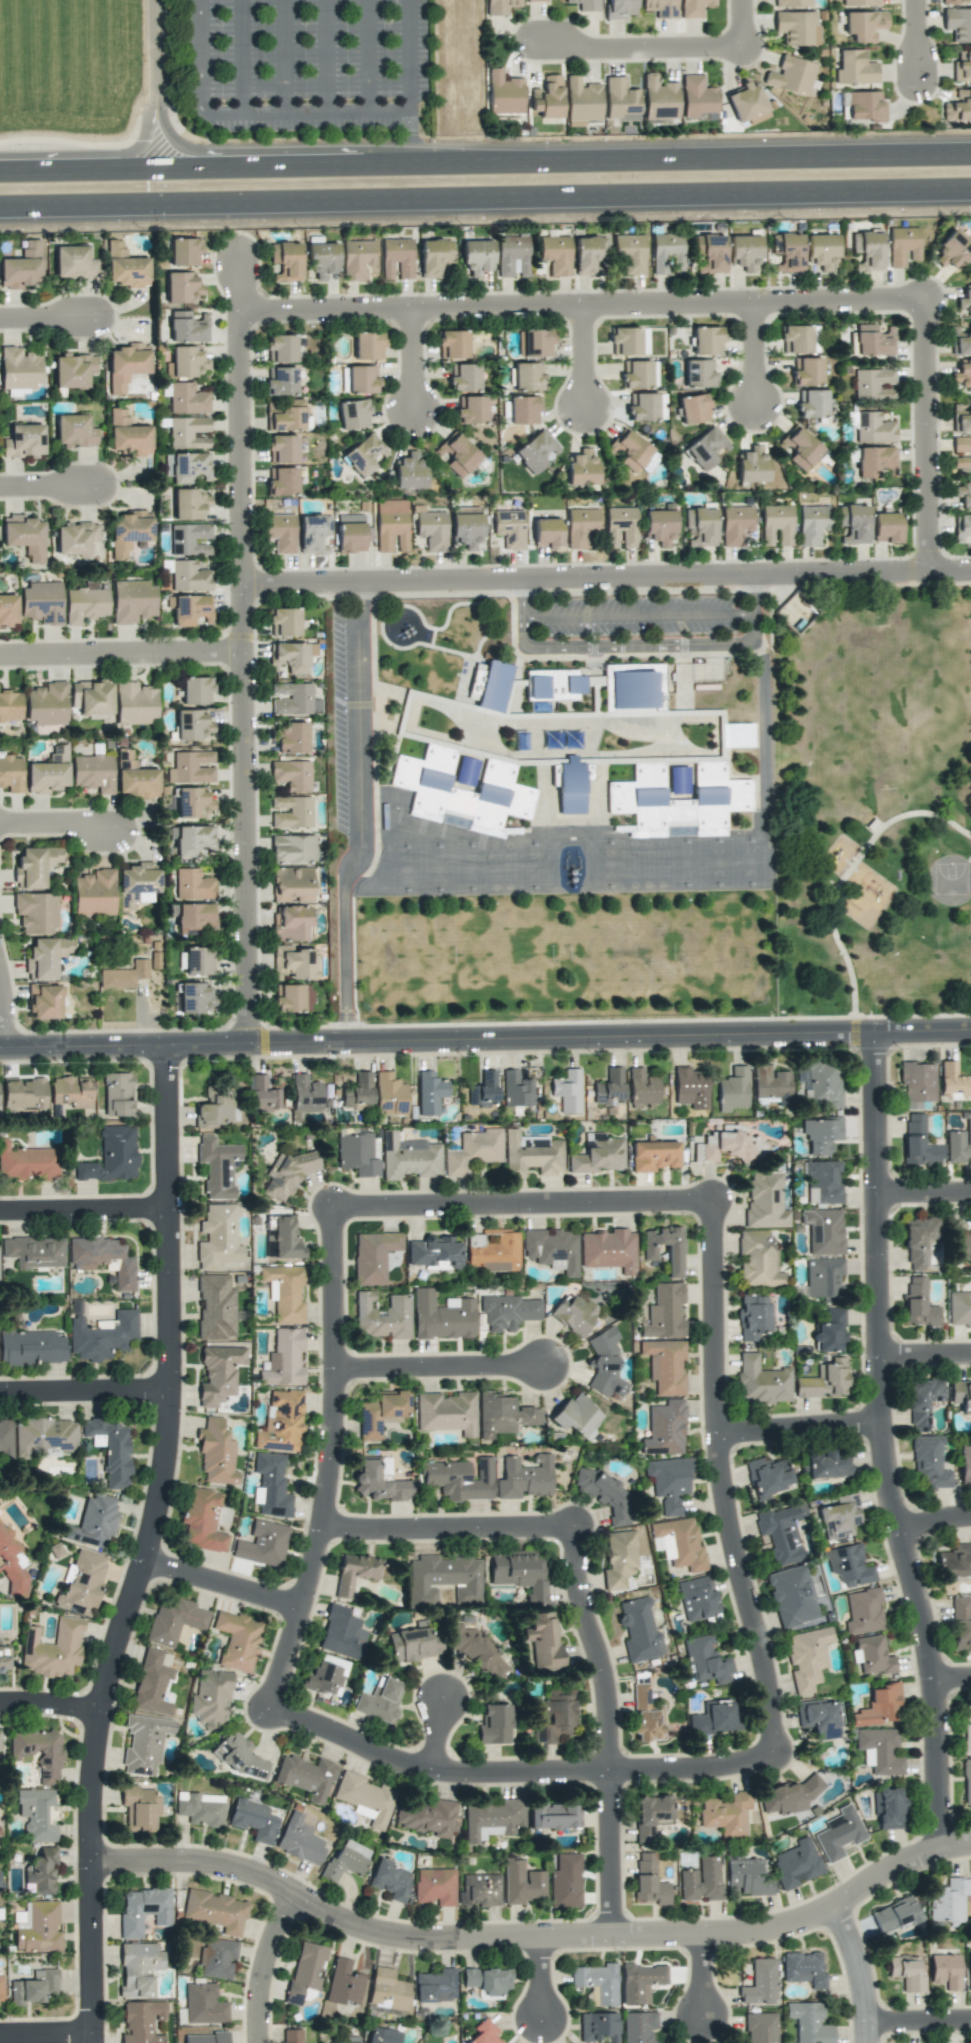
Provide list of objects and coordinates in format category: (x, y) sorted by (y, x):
building: (955, 0)
building: (859, 2)
building: (792, 3)
building: (585, 5)
building: (500, 6)
building: (660, 8)
building: (693, 8)
building: (620, 9)
road: (744, 21)
building: (958, 24)
building: (864, 25)
building: (797, 27)
road: (918, 41)
road: (641, 45)
road: (240, 56)
road: (283, 56)
road: (327, 56)
road: (366, 56)
building: (962, 66)
building: (854, 68)
building: (791, 75)
road: (409, 84)
road: (152, 86)
building: (504, 93)
building: (547, 97)
building: (697, 97)
building: (659, 98)
crop: (76, 99)
building: (620, 100)
building: (582, 101)
building: (747, 103)
building: (865, 106)
building: (958, 107)
road: (247, 112)
road: (485, 168)
road: (485, 191)
building: (903, 245)
building: (868, 250)
building: (953, 250)
building: (821, 251)
building: (184, 252)
building: (787, 252)
building: (630, 253)
building: (667, 253)
building: (710, 253)
building: (745, 253)
building: (556, 254)
building: (477, 256)
building: (513, 256)
building: (589, 256)
building: (433, 257)
building: (396, 258)
building: (322, 259)
building: (358, 259)
building: (286, 261)
building: (74, 262)
building: (21, 267)
building: (125, 267)
building: (182, 287)
building: (964, 302)
road: (584, 308)
road: (48, 320)
building: (187, 327)
building: (799, 339)
building: (707, 340)
building: (873, 340)
building: (629, 341)
building: (961, 341)
building: (534, 343)
building: (452, 344)
building: (368, 346)
building: (280, 348)
road: (757, 355)
road: (586, 359)
building: (188, 361)
road: (415, 362)
building: (125, 365)
building: (19, 368)
building: (73, 370)
building: (806, 372)
building: (699, 373)
building: (639, 374)
building: (962, 374)
building: (527, 376)
building: (464, 377)
building: (362, 379)
building: (280, 381)
building: (872, 384)
building: (187, 399)
building: (811, 404)
building: (642, 406)
building: (694, 408)
building: (471, 410)
building: (523, 410)
building: (353, 414)
building: (287, 417)
building: (961, 417)
building: (873, 428)
building: (74, 431)
building: (188, 432)
building: (127, 435)
road: (929, 437)
building: (24, 441)
building: (706, 448)
building: (799, 448)
building: (282, 449)
building: (629, 450)
building: (536, 451)
building: (961, 451)
building: (364, 455)
building: (458, 455)
building: (876, 461)
building: (649, 462)
building: (752, 464)
building: (187, 467)
building: (582, 468)
building: (410, 471)
building: (281, 481)
road: (49, 488)
building: (963, 494)
building: (189, 504)
building: (735, 524)
building: (812, 524)
building: (853, 524)
building: (391, 525)
building: (700, 525)
building: (776, 525)
building: (580, 526)
building: (465, 527)
building: (620, 527)
building: (659, 527)
building: (886, 527)
building: (510, 528)
building: (962, 528)
building: (128, 532)
building: (280, 532)
building: (313, 533)
building: (546, 533)
building: (24, 535)
building: (350, 536)
building: (75, 538)
building: (189, 539)
building: (189, 576)
road: (607, 580)
building: (133, 601)
building: (41, 602)
building: (85, 604)
building: (191, 609)
building: (7, 610)
road: (639, 614)
building: (284, 622)
road: (640, 644)
road: (244, 650)
road: (122, 655)
building: (291, 656)
building: (554, 684)
building: (494, 686)
building: (635, 686)
building: (196, 690)
building: (91, 697)
building: (290, 698)
building: (135, 703)
building: (47, 704)
building: (10, 706)
building: (192, 726)
building: (736, 735)
building: (290, 737)
building: (190, 767)
building: (48, 772)
building: (93, 772)
building: (11, 774)
building: (291, 774)
building: (134, 778)
building: (570, 787)
building: (461, 792)
park: (871, 800)
building: (679, 801)
building: (290, 812)
road: (360, 815)
road: (60, 824)
building: (191, 839)
building: (293, 849)
building: (34, 866)
road: (846, 870)
building: (137, 884)
building: (193, 884)
building: (291, 884)
building: (93, 893)
building: (36, 912)
building: (195, 916)
building: (290, 922)
building: (46, 957)
building: (198, 961)
building: (295, 962)
building: (124, 975)
building: (195, 998)
building: (292, 998)
building: (44, 1001)
road: (6, 1008)
road: (485, 1040)
building: (917, 1081)
building: (953, 1081)
building: (820, 1083)
building: (771, 1084)
building: (642, 1087)
building: (609, 1088)
building: (690, 1088)
building: (516, 1089)
building: (484, 1090)
building: (567, 1090)
building: (733, 1090)
building: (72, 1091)
building: (358, 1091)
building: (24, 1093)
building: (430, 1093)
building: (118, 1094)
building: (263, 1094)
building: (306, 1094)
building: (389, 1094)
building: (915, 1105)
building: (215, 1107)
building: (821, 1136)
building: (918, 1142)
building: (959, 1145)
building: (730, 1146)
building: (472, 1151)
building: (532, 1154)
building: (598, 1154)
building: (357, 1155)
building: (653, 1155)
building: (111, 1156)
building: (408, 1157)
building: (27, 1162)
building: (217, 1167)
building: (285, 1175)
building: (823, 1183)
road: (924, 1193)
building: (765, 1201)
road: (523, 1202)
road: (84, 1207)
building: (823, 1231)
building: (218, 1237)
building: (285, 1238)
building: (919, 1241)
building: (962, 1244)
building: (552, 1249)
building: (492, 1250)
building: (609, 1250)
building: (34, 1252)
building: (674, 1252)
building: (434, 1253)
building: (373, 1256)
building: (103, 1259)
building: (758, 1260)
building: (823, 1278)
building: (284, 1292)
building: (919, 1303)
building: (215, 1307)
building: (959, 1309)
building: (508, 1312)
building: (664, 1312)
building: (573, 1314)
building: (382, 1316)
building: (442, 1316)
building: (753, 1317)
building: (830, 1331)
building: (102, 1335)
building: (32, 1348)
road: (926, 1354)
building: (284, 1359)
road: (440, 1364)
building: (605, 1365)
building: (665, 1365)
building: (219, 1374)
building: (824, 1380)
building: (761, 1381)
road: (85, 1387)
building: (961, 1396)
building: (922, 1402)
building: (447, 1412)
building: (381, 1414)
building: (503, 1415)
building: (577, 1416)
building: (281, 1422)
road: (801, 1426)
building: (664, 1428)
building: (6, 1437)
building: (44, 1437)
road: (884, 1444)
building: (110, 1450)
building: (216, 1453)
road: (328, 1455)
building: (929, 1463)
building: (826, 1465)
building: (965, 1465)
building: (524, 1477)
building: (769, 1477)
road: (725, 1478)
building: (458, 1479)
building: (669, 1482)
building: (379, 1483)
building: (271, 1486)
building: (607, 1495)
building: (839, 1517)
building: (202, 1520)
building: (93, 1522)
road: (934, 1522)
road: (447, 1527)
building: (781, 1533)
building: (678, 1543)
building: (263, 1544)
road: (148, 1547)
building: (619, 1559)
building: (955, 1561)
building: (12, 1565)
building: (849, 1565)
building: (354, 1572)
building: (519, 1572)
building: (443, 1579)
road: (223, 1582)
building: (81, 1583)
building: (791, 1596)
building: (697, 1598)
building: (863, 1611)
building: (174, 1620)
building: (961, 1624)
building: (639, 1631)
building: (342, 1633)
building: (237, 1640)
building: (543, 1642)
building: (413, 1644)
building: (52, 1649)
building: (476, 1651)
building: (872, 1655)
building: (5, 1657)
building: (807, 1658)
building: (706, 1661)
building: (322, 1678)
road: (952, 1679)
building: (151, 1684)
building: (211, 1699)
building: (380, 1700)
road: (50, 1701)
building: (880, 1706)
building: (646, 1715)
building: (555, 1716)
building: (716, 1717)
building: (820, 1718)
building: (495, 1724)
road: (609, 1727)
building: (967, 1729)
road: (437, 1730)
building: (144, 1743)
building: (0, 1749)
building: (879, 1751)
building: (38, 1752)
building: (238, 1755)
road: (512, 1768)
building: (306, 1777)
building: (966, 1781)
building: (790, 1796)
building: (366, 1798)
building: (139, 1808)
building: (200, 1808)
building: (889, 1808)
building: (726, 1813)
building: (553, 1815)
building: (650, 1816)
building: (427, 1817)
building: (491, 1819)
building: (253, 1820)
building: (839, 1833)
building: (299, 1840)
building: (345, 1860)
building: (796, 1863)
building: (40, 1872)
building: (747, 1877)
building: (390, 1880)
building: (649, 1880)
building: (565, 1881)
building: (701, 1881)
building: (522, 1883)
building: (435, 1886)
building: (480, 1891)
building: (948, 1900)
building: (143, 1910)
building: (215, 1911)
building: (895, 1915)
building: (37, 1927)
road: (532, 1935)
building: (217, 1958)
road: (259, 1964)
building: (139, 1969)
building: (804, 1969)
building: (969, 1969)
building: (306, 1970)
road: (863, 1971)
building: (946, 1971)
road: (701, 1972)
building: (907, 1973)
road: (538, 1974)
building: (487, 1982)
building: (641, 1982)
building: (597, 1983)
building: (760, 1983)
building: (343, 1984)
building: (435, 1986)
building: (34, 1987)
building: (1, 1988)
building: (388, 1990)
building: (204, 2004)
road: (919, 2017)
building: (141, 2021)
building: (809, 2022)
building: (638, 2026)
building: (598, 2027)
building: (761, 2028)
building: (484, 2033)
road: (44, 2034)
building: (382, 2035)
building: (290, 2036)
building: (205, 2038)
building: (349, 2039)

